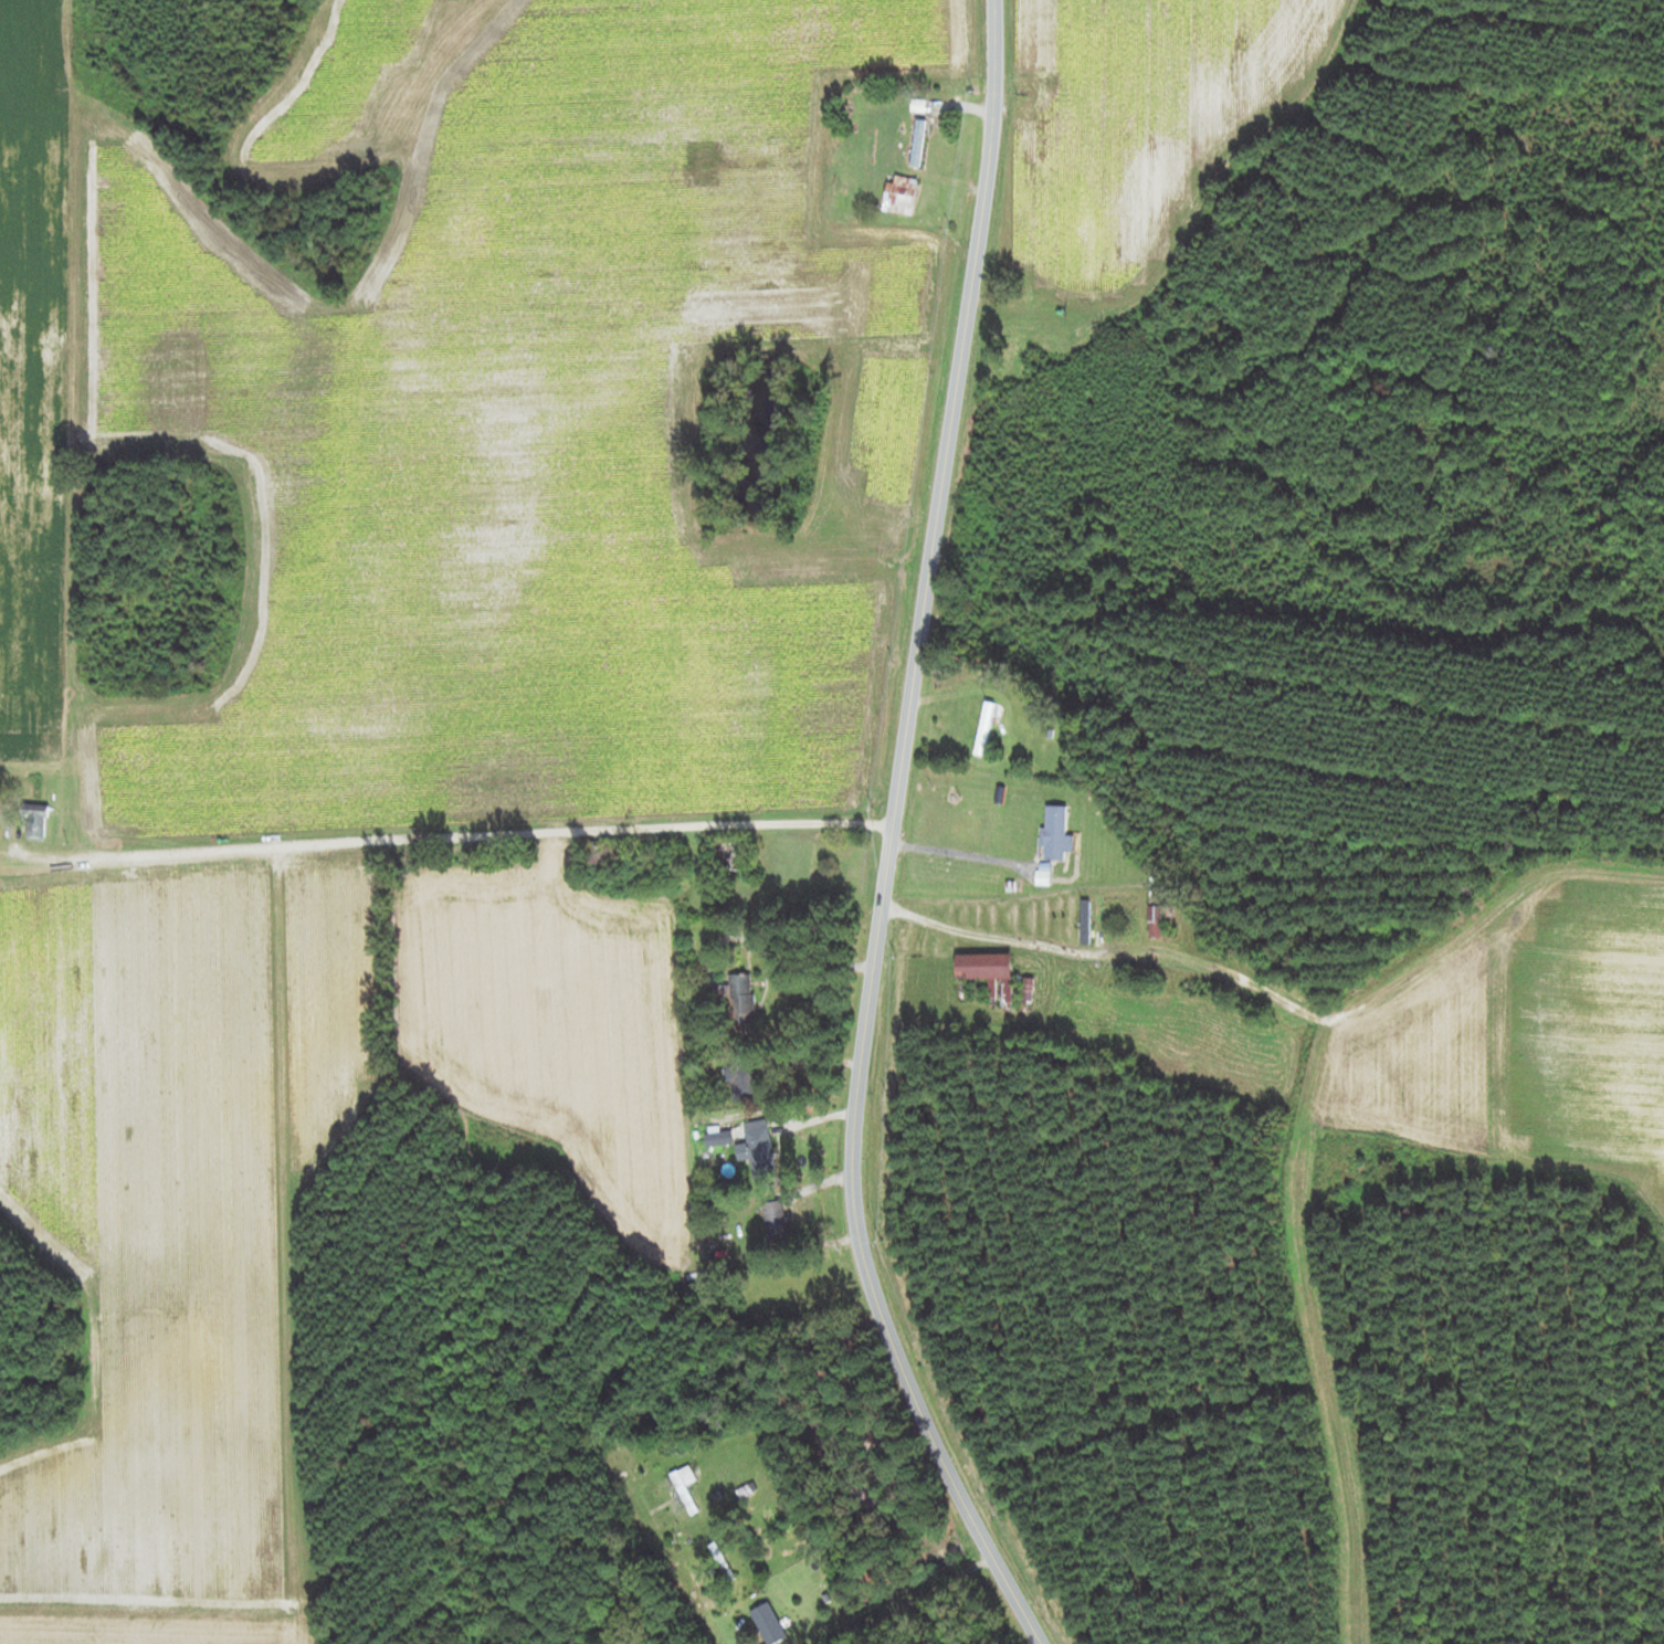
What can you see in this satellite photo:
building: (918, 144)
building: (902, 196)
building: (984, 729)
building: (36, 822)
building: (963, 823)
building: (1057, 834)
road: (891, 837)
building: (734, 854)
building: (1157, 921)
building: (1085, 923)
building: (989, 970)
building: (740, 998)
building: (747, 1082)
building: (758, 1147)
building: (777, 1221)
building: (685, 1488)
building: (716, 1552)
road: (914, 1599)
building: (770, 1625)

